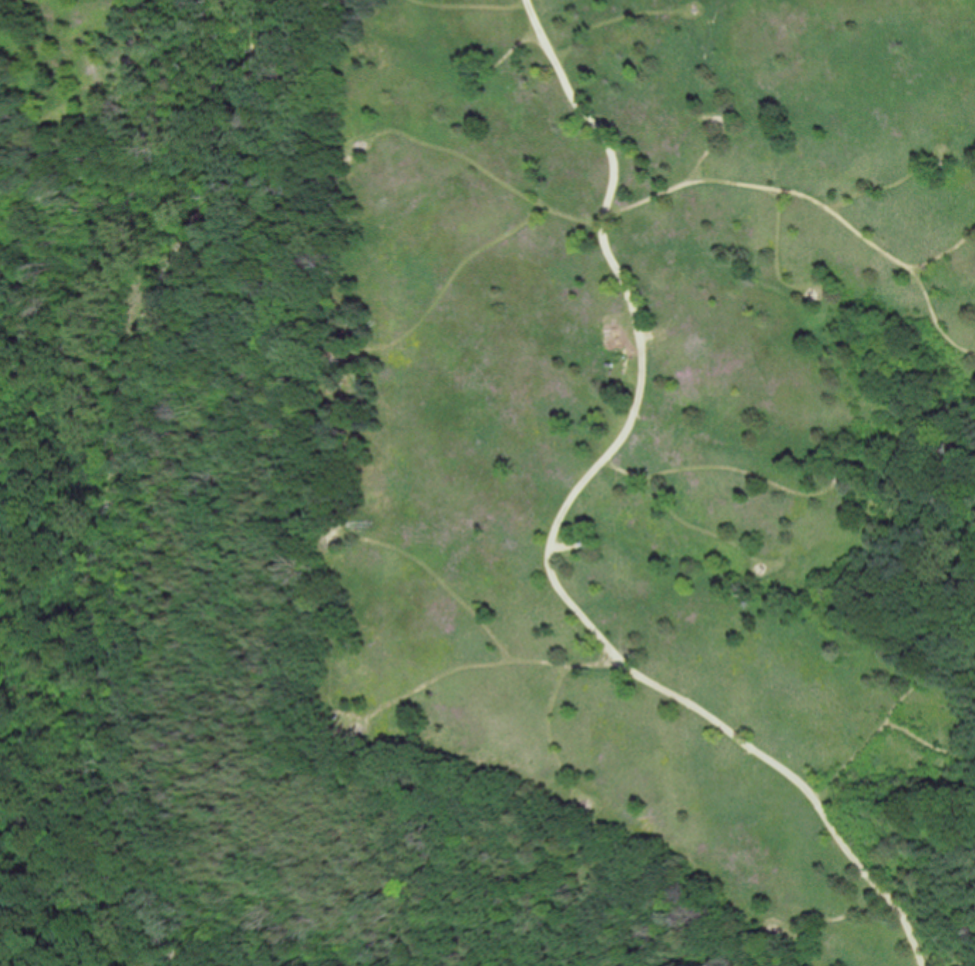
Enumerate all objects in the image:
road: (471, 5)
road: (614, 17)
road: (509, 49)
road: (711, 145)
road: (476, 162)
road: (885, 185)
road: (797, 191)
road: (776, 236)
road: (447, 280)
road: (935, 316)
road: (626, 356)
road: (967, 368)
road: (626, 374)
road: (736, 468)
park: (487, 483)
road: (117, 484)
road: (677, 517)
road: (553, 532)
road: (574, 553)
road: (438, 576)
road: (449, 669)
road: (887, 716)
road: (548, 721)
road: (928, 742)
road: (939, 913)
road: (826, 918)
road: (184, 954)
road: (157, 963)

